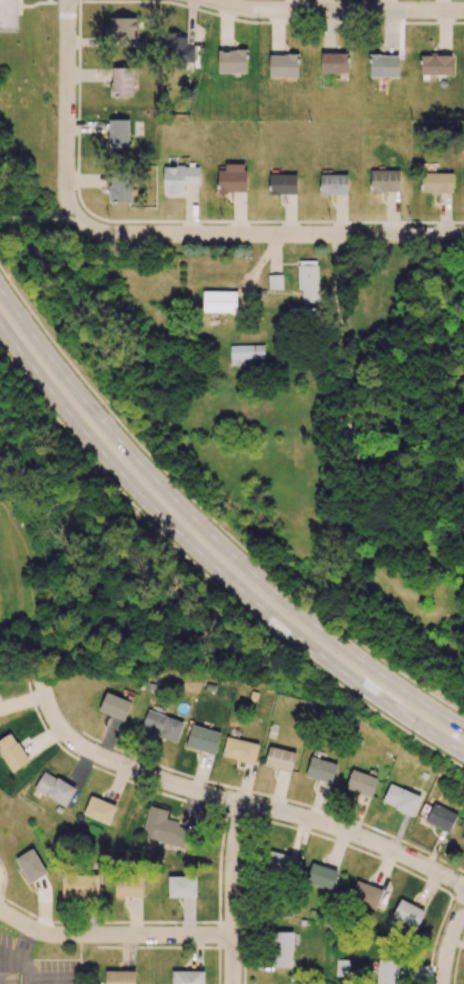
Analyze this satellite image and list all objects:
road: (49, 1)
road: (65, 2)
road: (34, 5)
road: (336, 10)
park: (9, 16)
building: (123, 32)
building: (179, 49)
building: (232, 61)
building: (334, 63)
building: (436, 64)
building: (283, 65)
building: (383, 66)
building: (122, 81)
park: (28, 109)
road: (66, 112)
building: (118, 133)
building: (179, 178)
building: (232, 178)
building: (384, 181)
building: (437, 182)
building: (283, 184)
building: (333, 184)
building: (120, 186)
road: (167, 222)
road: (270, 234)
building: (308, 280)
building: (274, 281)
building: (219, 301)
road: (338, 337)
building: (245, 354)
road: (207, 515)
road: (208, 534)
road: (209, 564)
road: (210, 579)
building: (114, 706)
building: (161, 725)
building: (202, 739)
building: (240, 750)
building: (11, 753)
building: (279, 759)
building: (320, 770)
building: (360, 786)
building: (54, 788)
building: (401, 799)
road: (236, 801)
building: (99, 810)
building: (441, 817)
building: (164, 828)
building: (463, 840)
building: (281, 863)
building: (30, 865)
building: (321, 876)
building: (80, 886)
building: (128, 886)
building: (182, 886)
road: (233, 893)
building: (365, 895)
building: (408, 914)
road: (113, 934)
road: (448, 943)
building: (281, 949)
road: (16, 951)
building: (342, 967)
building: (386, 971)
building: (119, 977)
building: (187, 977)

